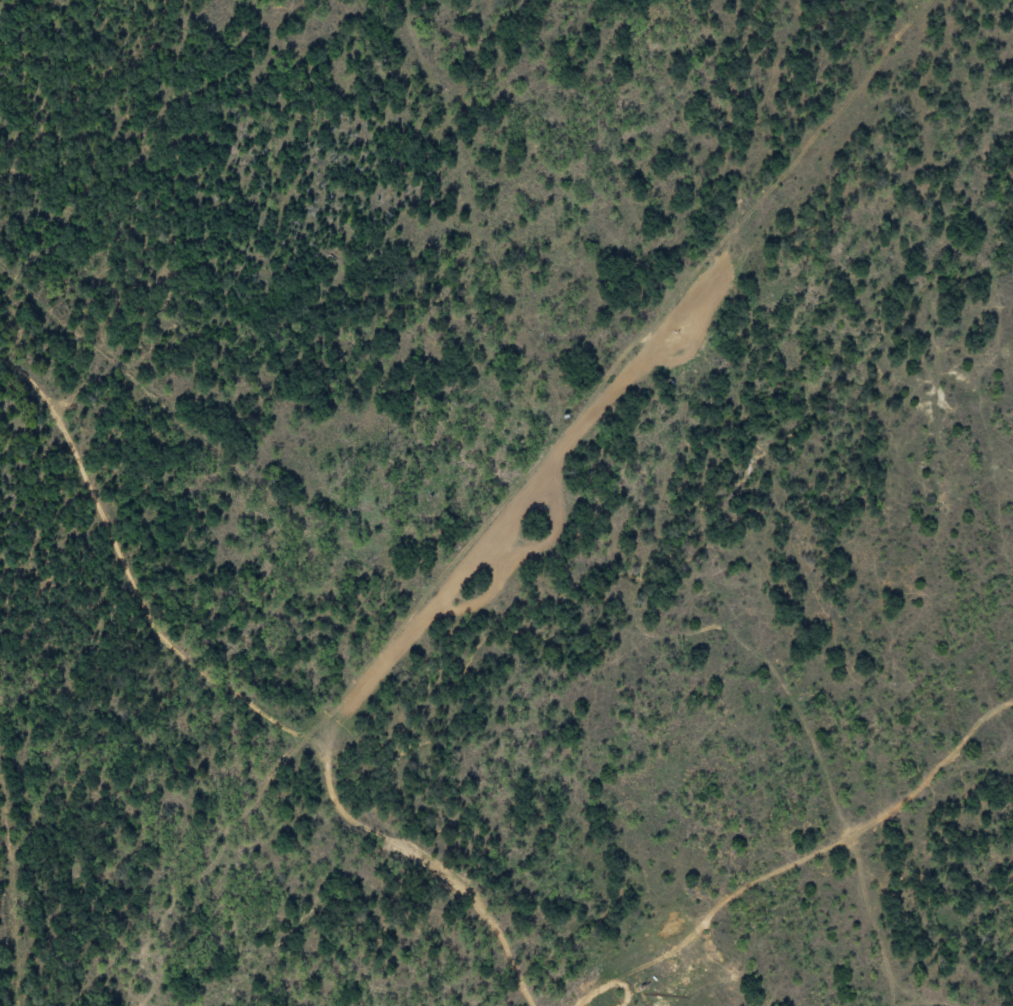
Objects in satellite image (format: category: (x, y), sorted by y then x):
road: (267, 684)

